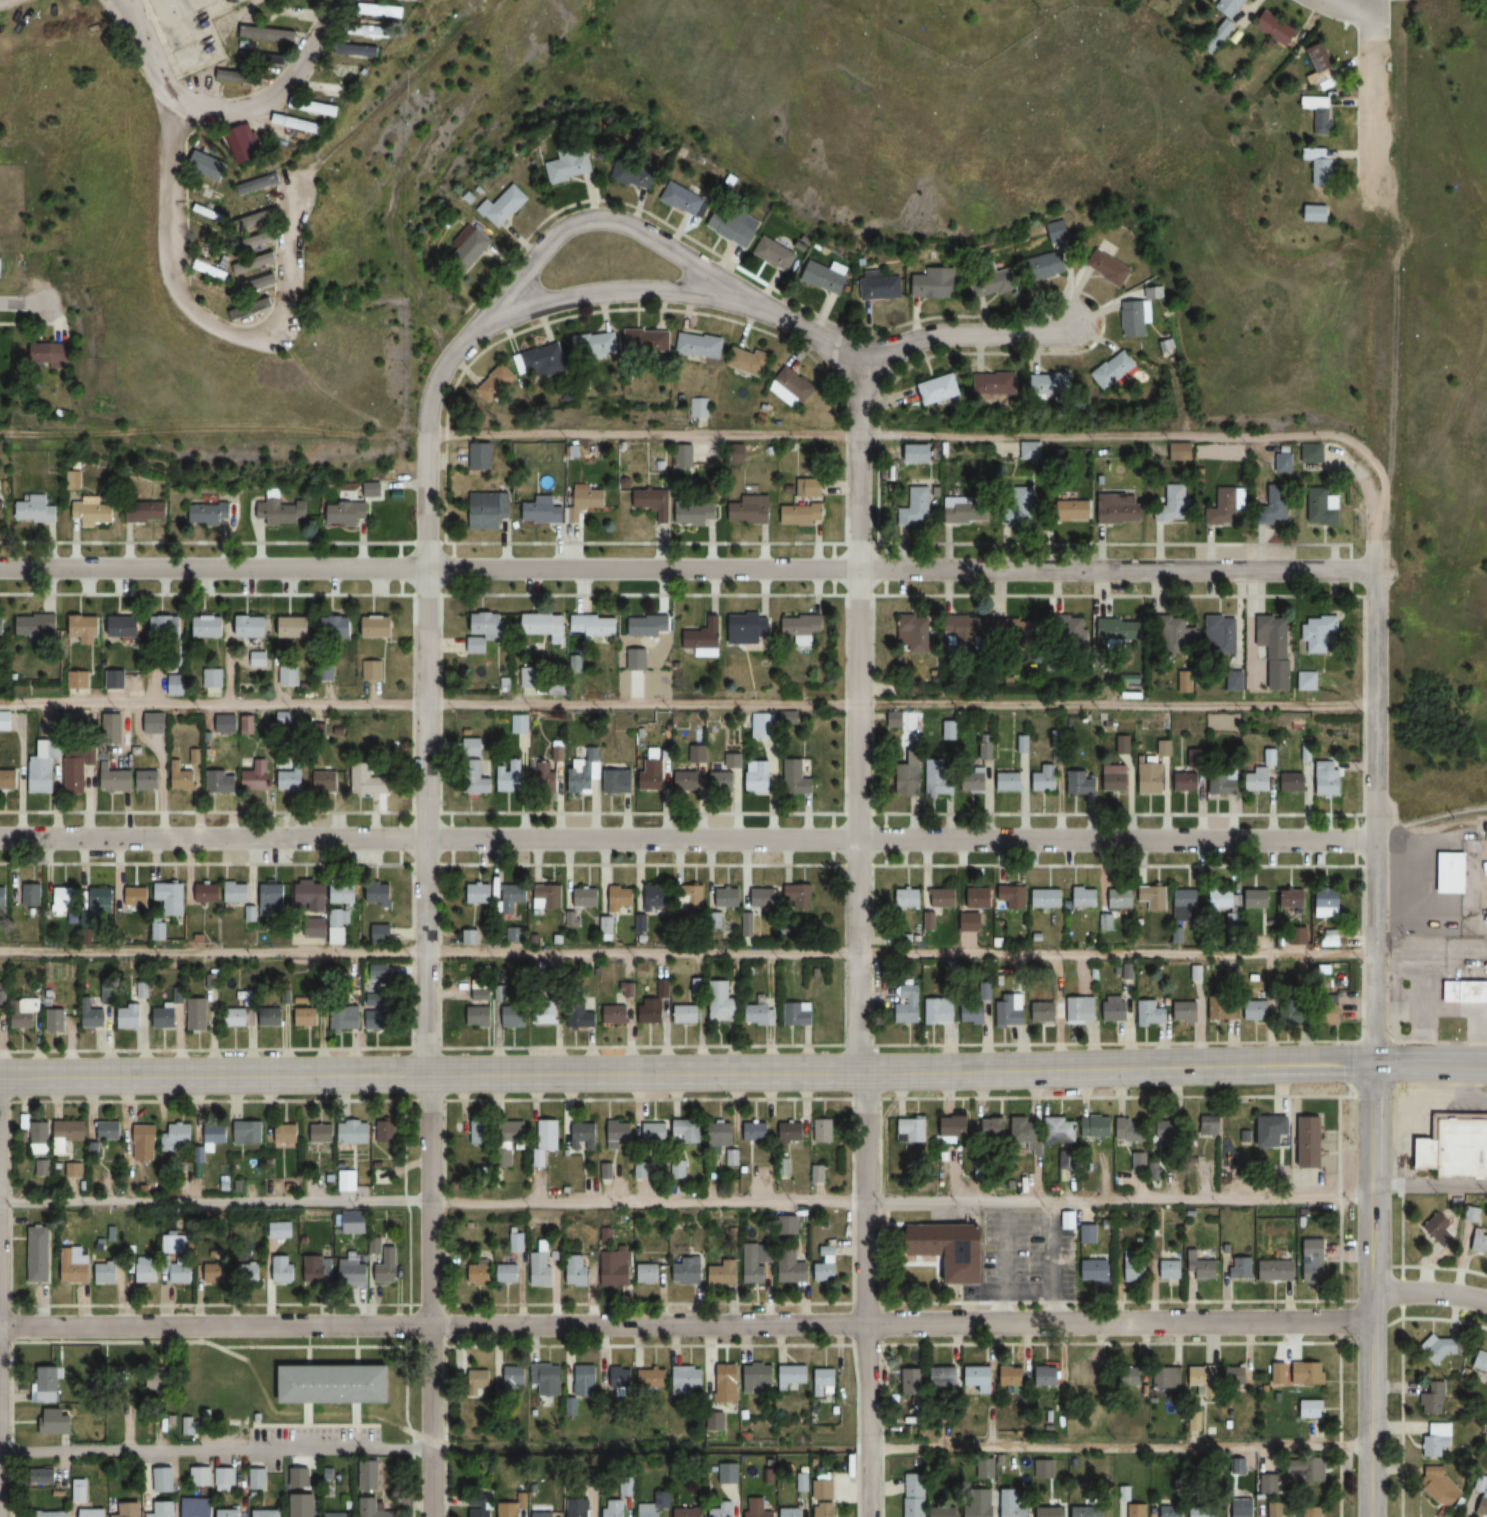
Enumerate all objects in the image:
road: (1376, 6)
road: (1353, 8)
building: (387, 10)
building: (1225, 23)
building: (1277, 28)
building: (272, 34)
building: (367, 51)
building: (264, 57)
building: (1321, 64)
road: (1374, 107)
road: (229, 108)
building: (319, 108)
building: (1321, 113)
building: (303, 124)
building: (248, 145)
building: (212, 166)
building: (569, 168)
building: (1326, 172)
building: (261, 184)
building: (683, 201)
building: (506, 205)
building: (212, 213)
building: (1319, 213)
road: (599, 219)
building: (733, 226)
building: (1058, 232)
building: (471, 246)
building: (776, 253)
building: (1046, 265)
building: (1111, 269)
building: (826, 277)
building: (934, 283)
building: (992, 283)
building: (881, 286)
road: (646, 290)
road: (15, 301)
road: (202, 313)
building: (1135, 318)
road: (963, 333)
building: (648, 341)
building: (597, 345)
building: (701, 345)
building: (50, 355)
building: (750, 361)
building: (550, 362)
building: (1117, 370)
building: (498, 383)
building: (999, 384)
building: (1054, 384)
building: (794, 387)
building: (943, 389)
building: (698, 408)
road: (18, 435)
road: (953, 437)
building: (1033, 451)
building: (1183, 452)
building: (738, 453)
building: (919, 453)
building: (1314, 453)
building: (685, 456)
building: (481, 457)
building: (1285, 463)
building: (1, 501)
building: (586, 501)
building: (653, 502)
building: (1172, 504)
building: (807, 505)
building: (1229, 505)
building: (1277, 506)
building: (749, 508)
building: (1046, 508)
building: (1328, 509)
building: (35, 510)
building: (146, 510)
building: (279, 510)
building: (489, 510)
building: (1120, 510)
building: (547, 511)
building: (697, 511)
building: (914, 511)
building: (968, 511)
building: (91, 512)
building: (211, 512)
building: (347, 513)
road: (212, 567)
road: (899, 568)
building: (2, 625)
building: (37, 625)
building: (211, 626)
building: (338, 626)
building: (545, 626)
building: (649, 626)
building: (126, 627)
building: (167, 627)
building: (252, 627)
building: (295, 627)
building: (380, 627)
building: (85, 628)
building: (595, 628)
building: (748, 628)
building: (803, 628)
building: (485, 630)
building: (1019, 630)
building: (968, 631)
building: (916, 632)
building: (1071, 632)
building: (1120, 633)
building: (1174, 633)
building: (1323, 633)
building: (1224, 635)
building: (706, 637)
building: (1279, 648)
building: (638, 660)
building: (374, 670)
building: (289, 675)
building: (79, 679)
building: (116, 679)
building: (214, 679)
building: (532, 681)
building: (1312, 681)
building: (176, 685)
building: (560, 689)
road: (687, 705)
building: (283, 718)
building: (896, 720)
building: (5, 721)
building: (154, 723)
building: (519, 723)
building: (226, 724)
building: (246, 725)
building: (949, 730)
building: (1055, 740)
building: (1022, 744)
building: (1125, 744)
building: (987, 747)
building: (1197, 757)
building: (44, 767)
building: (474, 768)
building: (584, 770)
building: (75, 772)
building: (544, 775)
building: (653, 775)
building: (257, 776)
building: (182, 777)
building: (290, 777)
building: (509, 777)
building: (760, 777)
building: (1150, 777)
building: (798, 778)
building: (1117, 778)
building: (940, 779)
building: (1044, 779)
building: (1328, 779)
building: (9, 780)
building: (117, 780)
building: (148, 780)
building: (1258, 780)
building: (325, 781)
building: (368, 781)
building: (911, 781)
building: (978, 781)
building: (222, 782)
building: (618, 782)
building: (687, 782)
building: (1010, 782)
building: (1188, 782)
building: (1225, 782)
building: (1293, 782)
building: (724, 783)
building: (1082, 783)
road: (427, 812)
road: (1376, 816)
road: (212, 839)
road: (899, 840)
building: (1448, 874)
building: (479, 892)
building: (208, 893)
building: (345, 893)
building: (239, 894)
building: (32, 895)
building: (381, 895)
building: (273, 896)
building: (313, 896)
building: (512, 896)
building: (101, 897)
building: (137, 897)
building: (547, 897)
building: (585, 897)
building: (800, 897)
building: (1154, 897)
building: (172, 898)
building: (656, 898)
building: (693, 898)
building: (727, 898)
building: (763, 898)
building: (908, 898)
building: (944, 898)
building: (979, 898)
building: (1012, 898)
building: (1047, 898)
building: (1085, 898)
building: (3, 899)
building: (620, 899)
building: (1120, 899)
building: (1258, 899)
building: (64, 900)
building: (1224, 900)
building: (1297, 901)
building: (1186, 904)
building: (1332, 904)
building: (974, 923)
building: (381, 933)
building: (471, 937)
road: (855, 938)
road: (424, 939)
road: (686, 954)
building: (379, 973)
building: (1464, 993)
building: (481, 995)
building: (722, 1002)
building: (654, 1007)
building: (909, 1008)
building: (1222, 1008)
building: (1011, 1009)
building: (1081, 1009)
building: (1258, 1010)
building: (1297, 1010)
building: (379, 1011)
building: (940, 1011)
building: (1116, 1011)
building: (1187, 1011)
building: (1046, 1012)
building: (618, 1013)
building: (975, 1013)
building: (686, 1014)
building: (762, 1014)
building: (799, 1014)
building: (1151, 1014)
building: (27, 1015)
building: (93, 1015)
building: (547, 1015)
building: (199, 1016)
building: (481, 1016)
building: (515, 1016)
building: (130, 1017)
building: (241, 1017)
building: (272, 1017)
building: (306, 1017)
building: (165, 1018)
building: (345, 1018)
building: (582, 1018)
building: (0, 1019)
building: (56, 1020)
road: (1429, 1064)
road: (898, 1071)
road: (212, 1074)
building: (997, 1126)
building: (1101, 1126)
building: (955, 1127)
building: (1210, 1127)
building: (913, 1128)
building: (112, 1129)
building: (825, 1129)
building: (1028, 1129)
building: (1062, 1129)
building: (1135, 1129)
building: (388, 1130)
building: (688, 1130)
building: (792, 1130)
building: (1273, 1130)
building: (356, 1131)
building: (479, 1131)
building: (655, 1131)
building: (757, 1131)
building: (250, 1132)
building: (323, 1132)
building: (1174, 1132)
building: (70, 1133)
building: (181, 1133)
building: (288, 1133)
building: (722, 1133)
building: (619, 1134)
building: (216, 1135)
building: (584, 1136)
building: (39, 1137)
building: (547, 1139)
building: (511, 1140)
building: (1313, 1141)
building: (146, 1142)
building: (1457, 1147)
building: (1069, 1159)
building: (1140, 1161)
building: (75, 1169)
building: (350, 1180)
road: (1429, 1186)
road: (685, 1201)
building: (356, 1222)
building: (1440, 1229)
building: (1090, 1234)
building: (1480, 1241)
building: (516, 1242)
building: (174, 1244)
building: (375, 1245)
building: (954, 1249)
building: (38, 1254)
parking lot: (1029, 1254)
building: (827, 1263)
building: (1317, 1264)
building: (75, 1265)
building: (388, 1266)
building: (1241, 1267)
building: (617, 1268)
building: (1204, 1268)
building: (146, 1269)
building: (539, 1269)
building: (576, 1269)
building: (1171, 1269)
building: (282, 1270)
building: (317, 1270)
building: (794, 1270)
building: (1097, 1270)
building: (1137, 1270)
building: (1277, 1270)
building: (689, 1271)
building: (106, 1272)
building: (180, 1272)
building: (215, 1272)
building: (507, 1272)
building: (724, 1272)
building: (249, 1273)
building: (353, 1273)
building: (485, 1273)
building: (647, 1273)
building: (755, 1274)
road: (1372, 1290)
road: (1429, 1292)
road: (900, 1323)
road: (214, 1325)
building: (1441, 1348)
building: (1481, 1362)
building: (796, 1374)
building: (1308, 1374)
building: (759, 1375)
building: (949, 1375)
building: (1015, 1375)
building: (1050, 1375)
building: (1085, 1375)
building: (1237, 1375)
building: (513, 1376)
building: (622, 1376)
building: (983, 1377)
building: (1171, 1377)
building: (547, 1378)
building: (654, 1378)
building: (585, 1379)
building: (689, 1379)
building: (827, 1379)
building: (915, 1379)
building: (1204, 1379)
building: (162, 1380)
building: (729, 1382)
building: (47, 1383)
building: (339, 1383)
building: (1435, 1398)
building: (1312, 1408)
building: (57, 1421)
building: (192, 1424)
building: (1439, 1439)
road: (685, 1449)
building: (1310, 1471)
building: (731, 1472)
building: (371, 1474)
building: (200, 1476)
building: (225, 1477)
building: (257, 1478)
building: (164, 1479)
building: (1269, 1483)
building: (1444, 1486)
building: (825, 1489)
building: (80, 1490)
building: (916, 1495)
building: (1013, 1504)
building: (480, 1506)
building: (653, 1506)
building: (1483, 1506)
building: (197, 1507)
building: (757, 1507)
building: (983, 1507)
building: (374, 1508)
building: (510, 1508)
building: (581, 1508)
building: (613, 1508)
building: (1244, 1508)
building: (130, 1509)
building: (165, 1509)
building: (722, 1509)
building: (826, 1509)
building: (1137, 1509)
building: (1171, 1510)
building: (1315, 1510)
building: (1053, 1511)
building: (1089, 1511)
building: (1206, 1511)
building: (94, 1512)
building: (229, 1512)
building: (690, 1512)
building: (791, 1512)
building: (945, 1512)
building: (46, 1513)
building: (268, 1513)
building: (542, 1513)
building: (300, 1514)
building: (1274, 1514)
building: (336, 1515)

